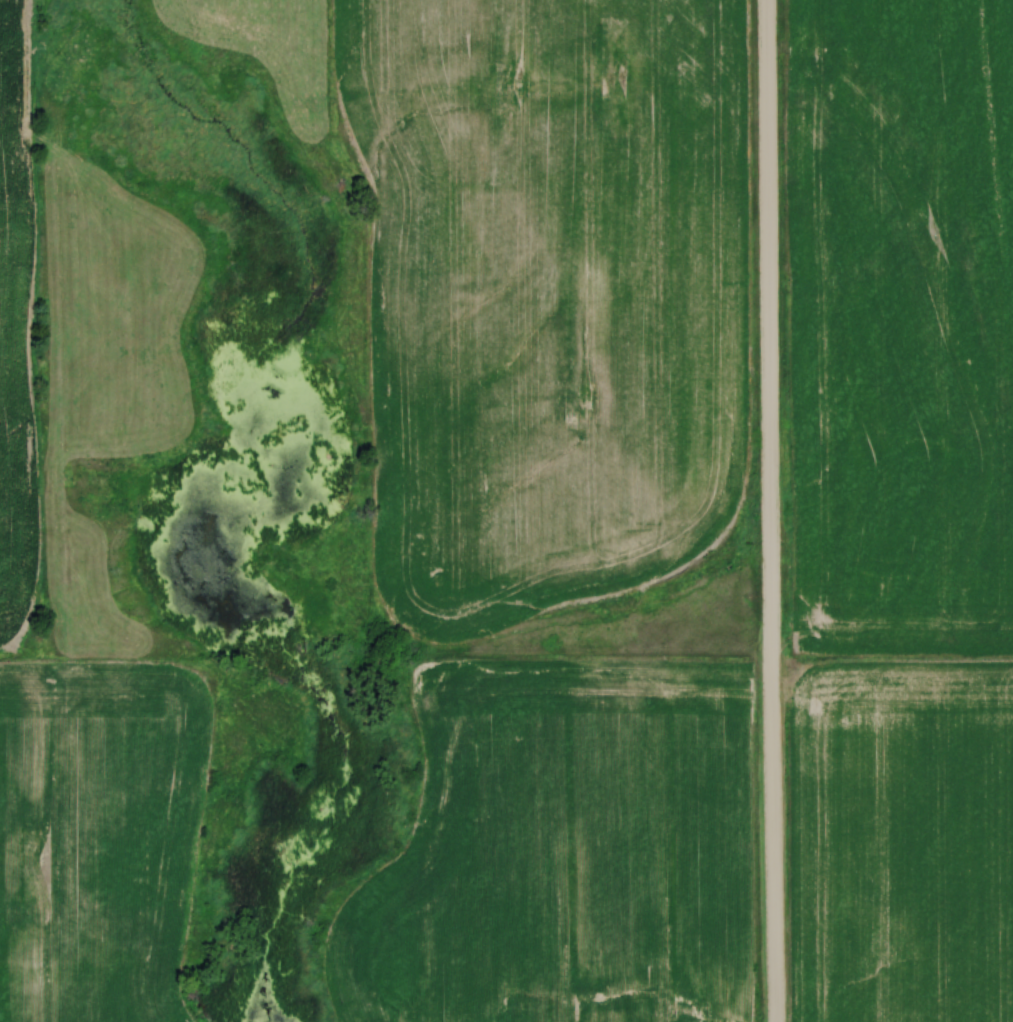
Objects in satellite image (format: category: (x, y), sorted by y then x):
road: (767, 511)

